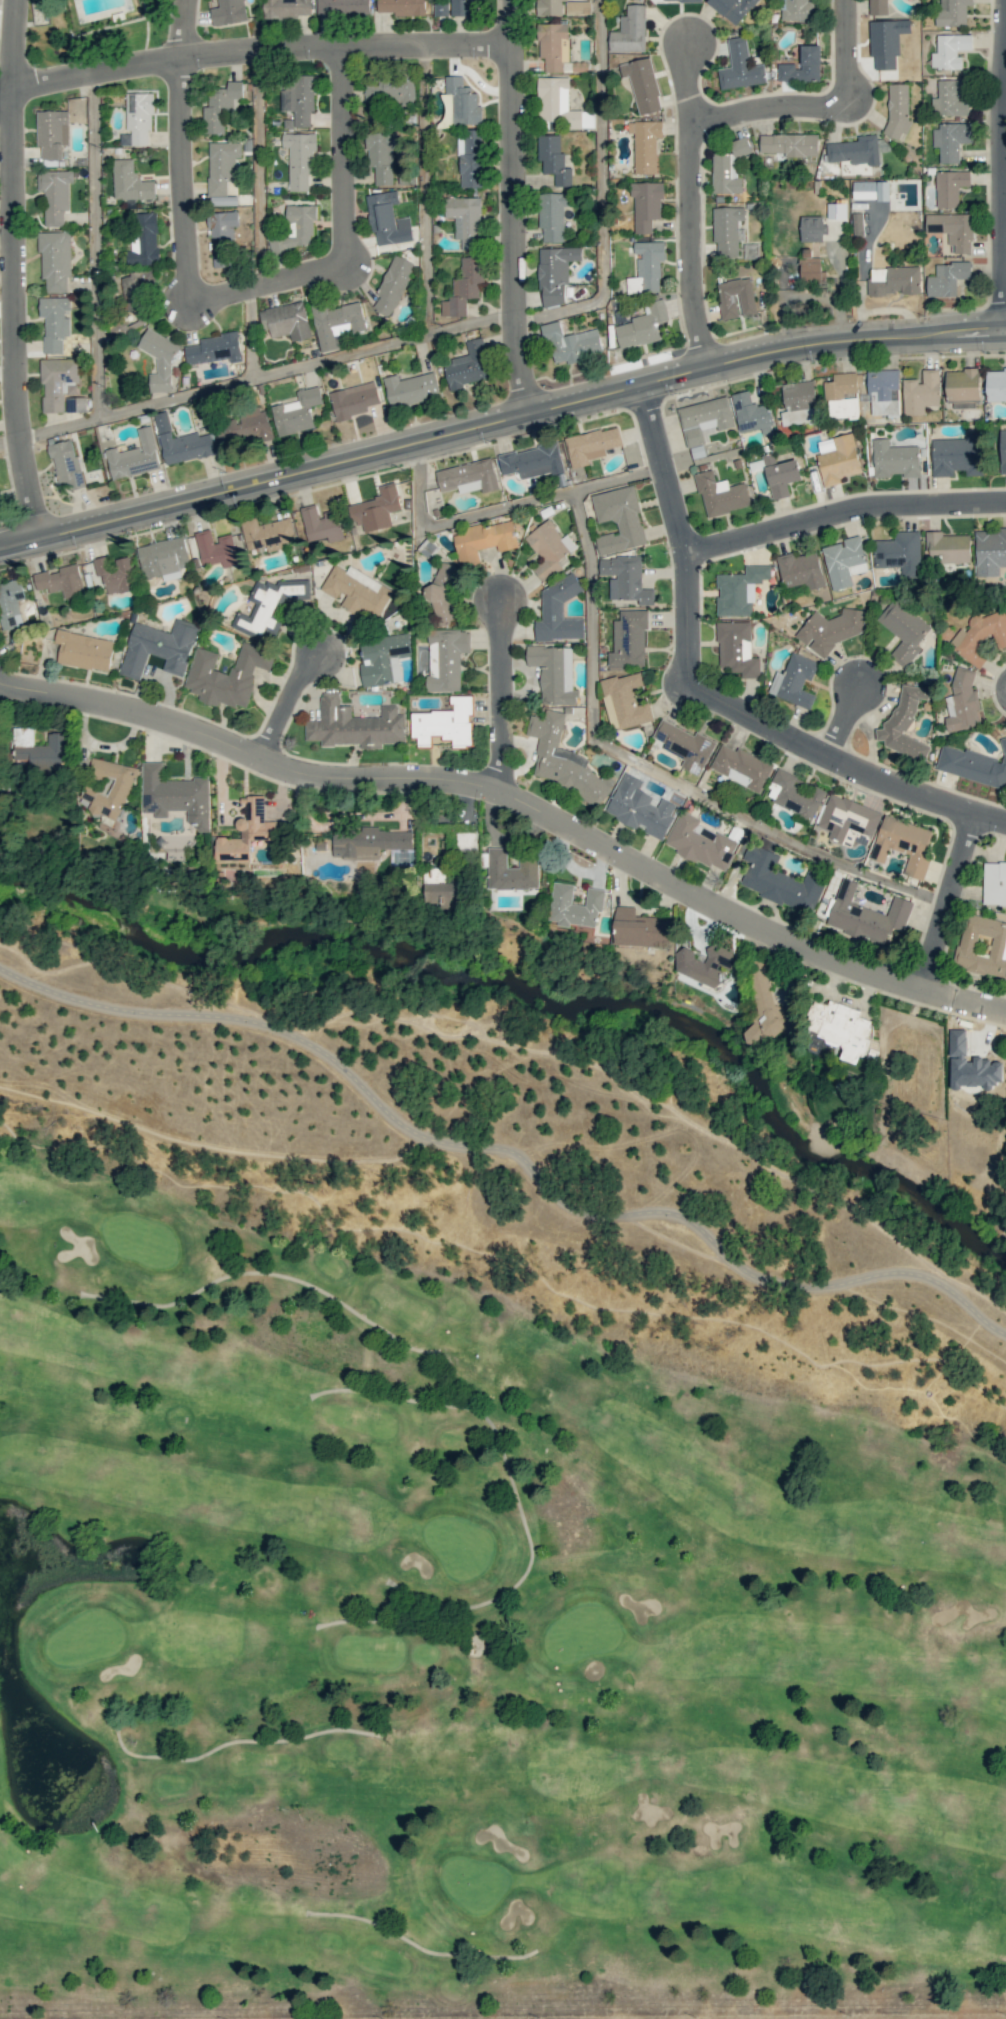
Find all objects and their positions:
road: (1, 0)
building: (680, 0)
building: (343, 7)
building: (402, 7)
building: (460, 7)
building: (549, 7)
building: (578, 7)
building: (878, 7)
building: (287, 8)
building: (732, 8)
building: (441, 9)
building: (797, 10)
building: (228, 12)
building: (952, 12)
building: (630, 30)
building: (887, 42)
building: (553, 45)
road: (253, 50)
building: (950, 50)
building: (803, 66)
building: (740, 67)
building: (643, 84)
building: (389, 91)
building: (949, 98)
building: (297, 100)
building: (460, 103)
building: (560, 105)
building: (220, 106)
road: (820, 107)
building: (898, 109)
building: (138, 119)
road: (1005, 122)
building: (52, 133)
building: (951, 140)
building: (645, 144)
building: (790, 144)
building: (853, 150)
road: (180, 151)
building: (381, 155)
building: (470, 158)
building: (299, 159)
building: (553, 159)
building: (222, 165)
road: (260, 167)
building: (729, 168)
building: (130, 182)
building: (950, 187)
road: (426, 190)
building: (870, 190)
building: (55, 195)
road: (605, 196)
building: (225, 200)
road: (685, 204)
building: (646, 205)
road: (510, 206)
building: (837, 210)
building: (552, 215)
building: (388, 219)
building: (465, 220)
building: (857, 224)
building: (297, 228)
road: (343, 228)
building: (812, 228)
building: (953, 229)
building: (727, 230)
building: (222, 237)
building: (144, 239)
road: (95, 245)
building: (55, 260)
building: (647, 267)
road: (10, 268)
building: (811, 268)
building: (555, 272)
building: (947, 278)
building: (894, 280)
building: (393, 284)
building: (464, 287)
building: (736, 298)
building: (135, 299)
building: (286, 320)
building: (54, 322)
building: (336, 322)
building: (642, 326)
road: (249, 333)
building: (571, 343)
building: (215, 349)
building: (159, 359)
building: (467, 365)
road: (263, 375)
building: (57, 382)
building: (883, 382)
building: (996, 385)
building: (963, 388)
building: (410, 389)
building: (921, 392)
building: (841, 396)
building: (354, 399)
building: (798, 403)
building: (297, 412)
building: (752, 414)
road: (499, 418)
building: (704, 418)
building: (245, 428)
road: (8, 440)
building: (182, 442)
building: (591, 445)
building: (1003, 450)
building: (957, 455)
building: (134, 456)
building: (837, 458)
building: (895, 459)
building: (532, 461)
building: (66, 463)
building: (781, 475)
building: (469, 477)
building: (721, 494)
road: (502, 507)
building: (376, 508)
road: (845, 513)
building: (619, 519)
building: (321, 523)
building: (267, 533)
road: (682, 534)
building: (483, 540)
building: (216, 548)
building: (947, 548)
building: (550, 549)
building: (990, 551)
building: (900, 553)
building: (164, 558)
building: (844, 561)
building: (801, 569)
building: (115, 574)
building: (625, 578)
building: (61, 580)
building: (739, 590)
building: (357, 592)
building: (11, 603)
building: (269, 606)
building: (558, 611)
building: (830, 629)
building: (903, 630)
building: (980, 636)
building: (629, 640)
building: (160, 647)
building: (737, 649)
building: (84, 650)
building: (383, 658)
building: (446, 658)
building: (554, 673)
building: (227, 675)
building: (794, 680)
building: (624, 701)
building: (963, 701)
road: (268, 704)
road: (488, 710)
road: (845, 723)
building: (904, 723)
building: (445, 724)
building: (354, 725)
building: (685, 745)
building: (42, 749)
building: (561, 758)
building: (974, 765)
building: (741, 766)
road: (847, 768)
road: (656, 771)
building: (108, 788)
building: (794, 794)
building: (175, 795)
building: (640, 807)
road: (511, 814)
building: (848, 820)
building: (247, 832)
building: (369, 842)
building: (700, 842)
building: (903, 844)
building: (510, 870)
building: (780, 880)
building: (994, 883)
building: (444, 895)
building: (575, 905)
road: (947, 906)
building: (867, 916)
building: (640, 928)
building: (982, 945)
building: (705, 964)
building: (766, 1009)
building: (839, 1027)
building: (971, 1066)
road: (506, 1152)
park: (459, 1673)

